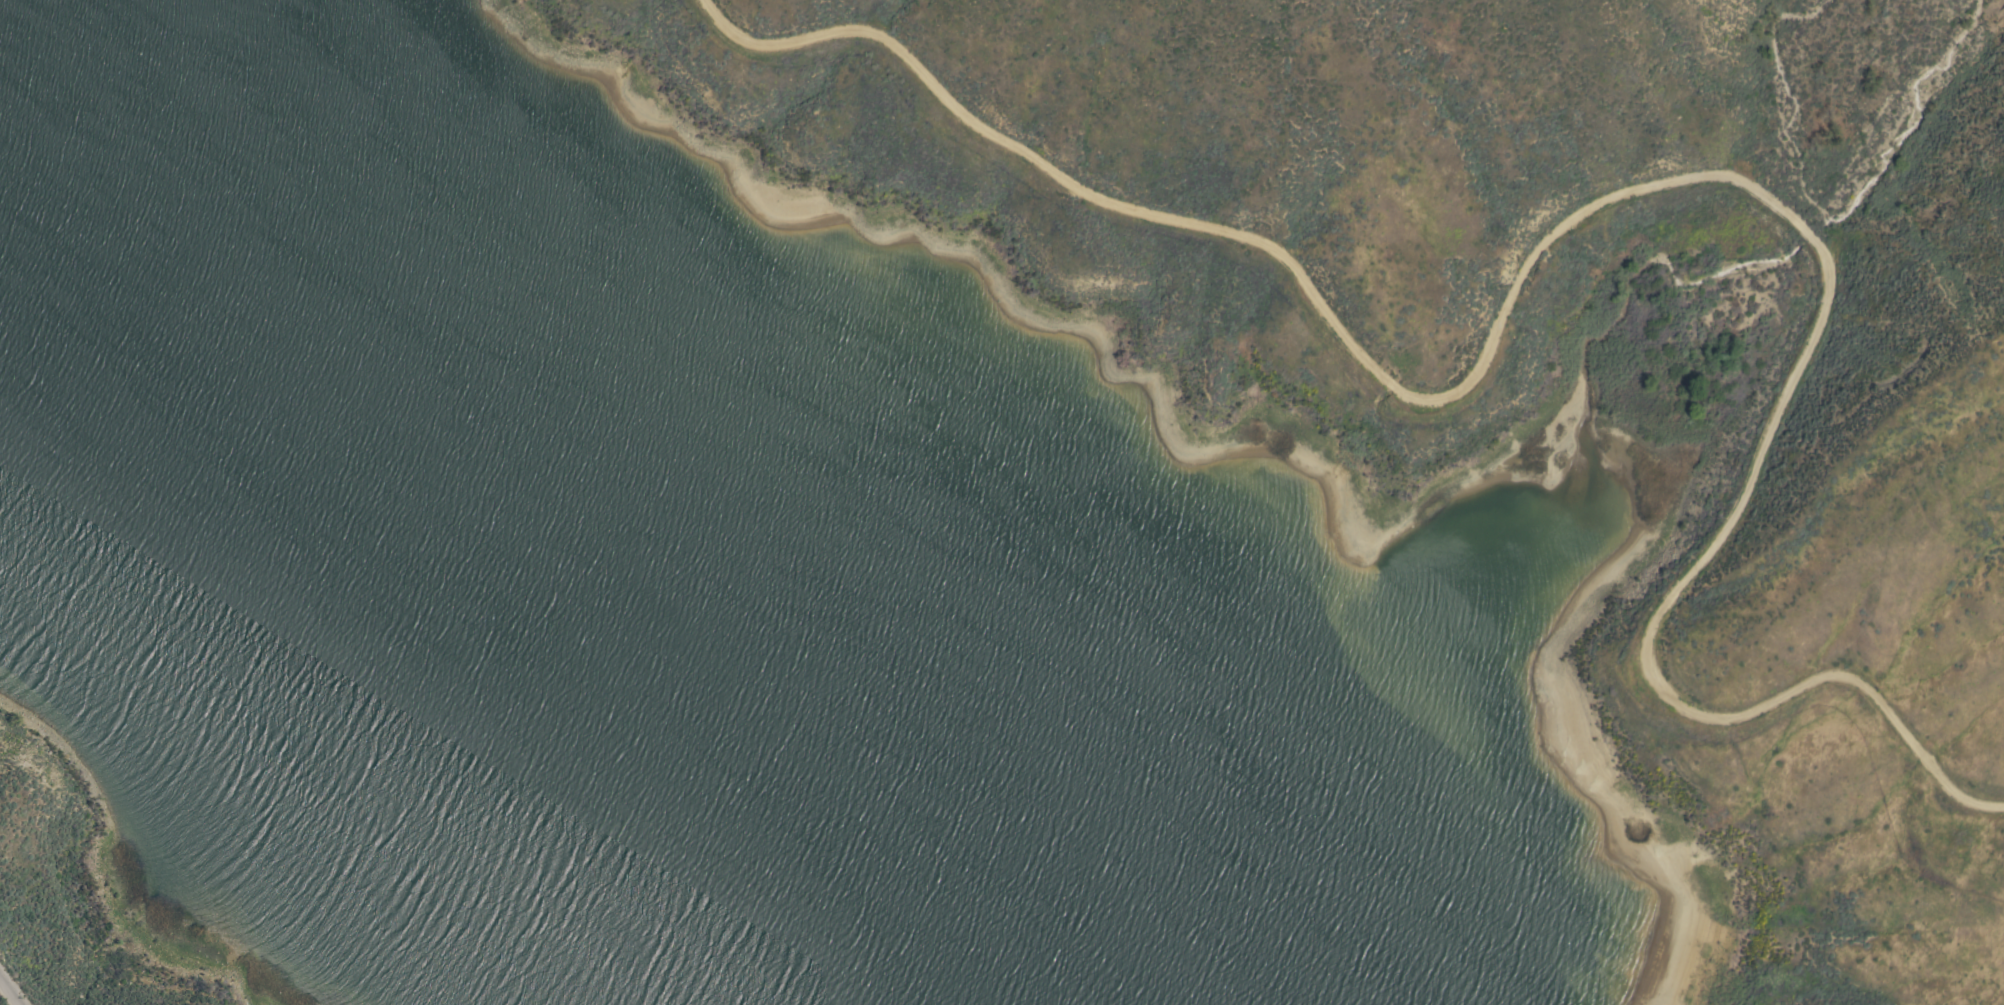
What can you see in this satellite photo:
road: (905, 54)
road: (1809, 237)
road: (7, 994)

